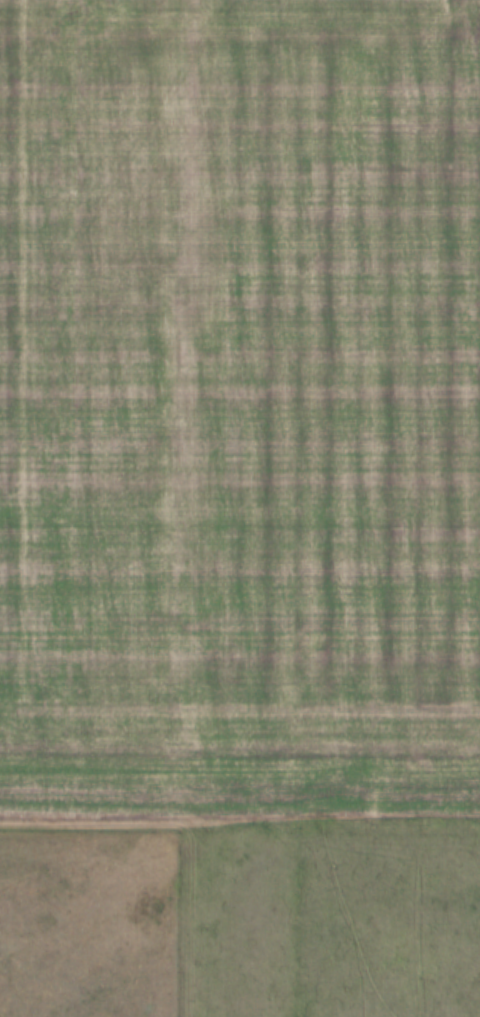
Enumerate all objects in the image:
road: (239, 819)

